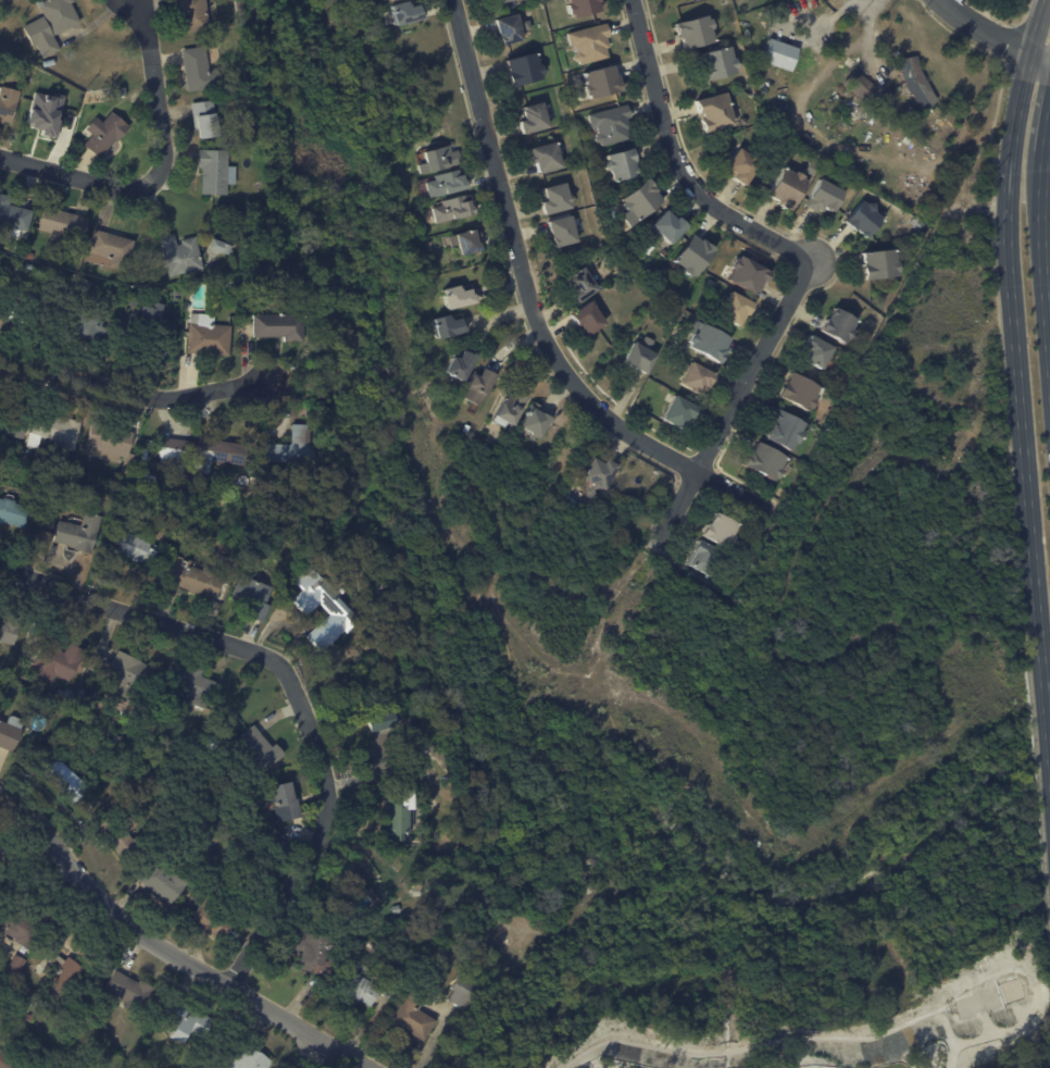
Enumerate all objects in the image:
building: (504, 0)
building: (241, 5)
building: (583, 7)
building: (407, 12)
building: (60, 14)
building: (193, 15)
road: (1036, 25)
road: (983, 28)
building: (510, 29)
building: (696, 30)
building: (42, 36)
building: (590, 44)
building: (780, 53)
road: (1039, 54)
building: (49, 62)
building: (722, 62)
building: (199, 70)
building: (526, 70)
building: (602, 82)
building: (920, 82)
building: (862, 85)
building: (123, 91)
building: (8, 103)
building: (714, 111)
building: (45, 113)
building: (535, 117)
building: (207, 119)
building: (611, 124)
road: (1047, 132)
building: (104, 134)
building: (546, 157)
building: (441, 158)
road: (678, 161)
building: (622, 165)
building: (746, 165)
road: (161, 167)
building: (216, 171)
building: (449, 184)
road: (1046, 187)
building: (787, 188)
building: (826, 196)
building: (555, 198)
building: (641, 200)
building: (453, 209)
building: (248, 212)
building: (13, 215)
building: (864, 219)
building: (903, 223)
building: (64, 224)
building: (921, 224)
building: (670, 226)
building: (564, 231)
building: (911, 232)
building: (465, 240)
building: (222, 246)
building: (111, 250)
building: (21, 252)
road: (1041, 252)
building: (665, 253)
building: (183, 254)
building: (32, 256)
building: (695, 256)
building: (879, 264)
building: (30, 266)
building: (442, 268)
building: (649, 271)
building: (749, 274)
building: (233, 284)
building: (711, 284)
building: (225, 285)
building: (584, 285)
building: (459, 297)
building: (47, 306)
building: (738, 309)
road: (532, 311)
building: (2, 313)
building: (589, 320)
building: (282, 326)
building: (449, 326)
building: (841, 326)
building: (154, 328)
building: (91, 331)
building: (208, 337)
building: (709, 340)
building: (818, 351)
building: (641, 356)
building: (463, 365)
building: (698, 378)
building: (479, 387)
building: (800, 392)
road: (133, 393)
road: (730, 401)
building: (512, 408)
road: (1020, 410)
building: (680, 412)
building: (536, 423)
building: (467, 429)
building: (786, 429)
building: (52, 431)
building: (14, 432)
building: (293, 447)
building: (116, 451)
building: (202, 455)
building: (561, 461)
building: (766, 462)
building: (67, 471)
building: (603, 472)
building: (108, 481)
building: (574, 497)
building: (13, 512)
building: (639, 519)
building: (723, 529)
building: (80, 533)
building: (133, 546)
building: (234, 548)
building: (755, 551)
building: (703, 556)
building: (234, 564)
building: (196, 579)
building: (254, 596)
building: (339, 609)
building: (8, 633)
building: (374, 646)
building: (59, 662)
building: (123, 669)
building: (190, 687)
building: (66, 694)
building: (82, 696)
road: (293, 698)
building: (57, 708)
building: (386, 721)
building: (421, 728)
building: (10, 733)
building: (115, 742)
building: (259, 750)
building: (418, 770)
building: (63, 778)
building: (287, 804)
building: (401, 815)
building: (116, 834)
building: (3, 848)
building: (487, 859)
building: (160, 881)
building: (416, 893)
building: (397, 910)
building: (211, 919)
building: (21, 928)
building: (407, 929)
road: (170, 949)
building: (312, 954)
building: (14, 966)
building: (62, 971)
building: (362, 985)
building: (129, 991)
building: (465, 991)
building: (29, 1017)
building: (415, 1018)
building: (188, 1020)
road: (305, 1052)
building: (250, 1059)
building: (12, 1061)

